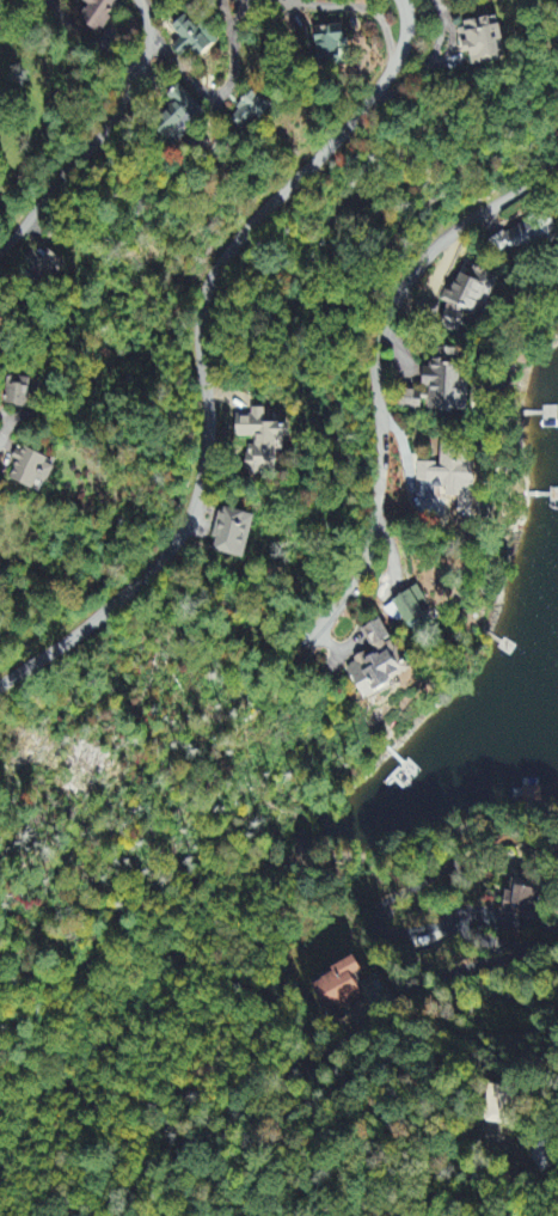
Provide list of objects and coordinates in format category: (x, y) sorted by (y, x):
road: (351, 8)
building: (100, 13)
building: (195, 38)
road: (92, 41)
building: (331, 43)
building: (485, 43)
road: (422, 69)
road: (226, 91)
building: (251, 114)
building: (180, 116)
road: (100, 138)
building: (519, 238)
building: (45, 269)
building: (468, 295)
building: (0, 330)
road: (200, 353)
building: (447, 389)
building: (18, 393)
building: (411, 402)
road: (5, 429)
building: (264, 441)
road: (378, 469)
building: (448, 471)
building: (33, 472)
building: (233, 534)
building: (411, 607)
building: (380, 665)
road: (87, 860)
building: (521, 900)
building: (341, 989)
road: (554, 1041)
building: (539, 1153)

